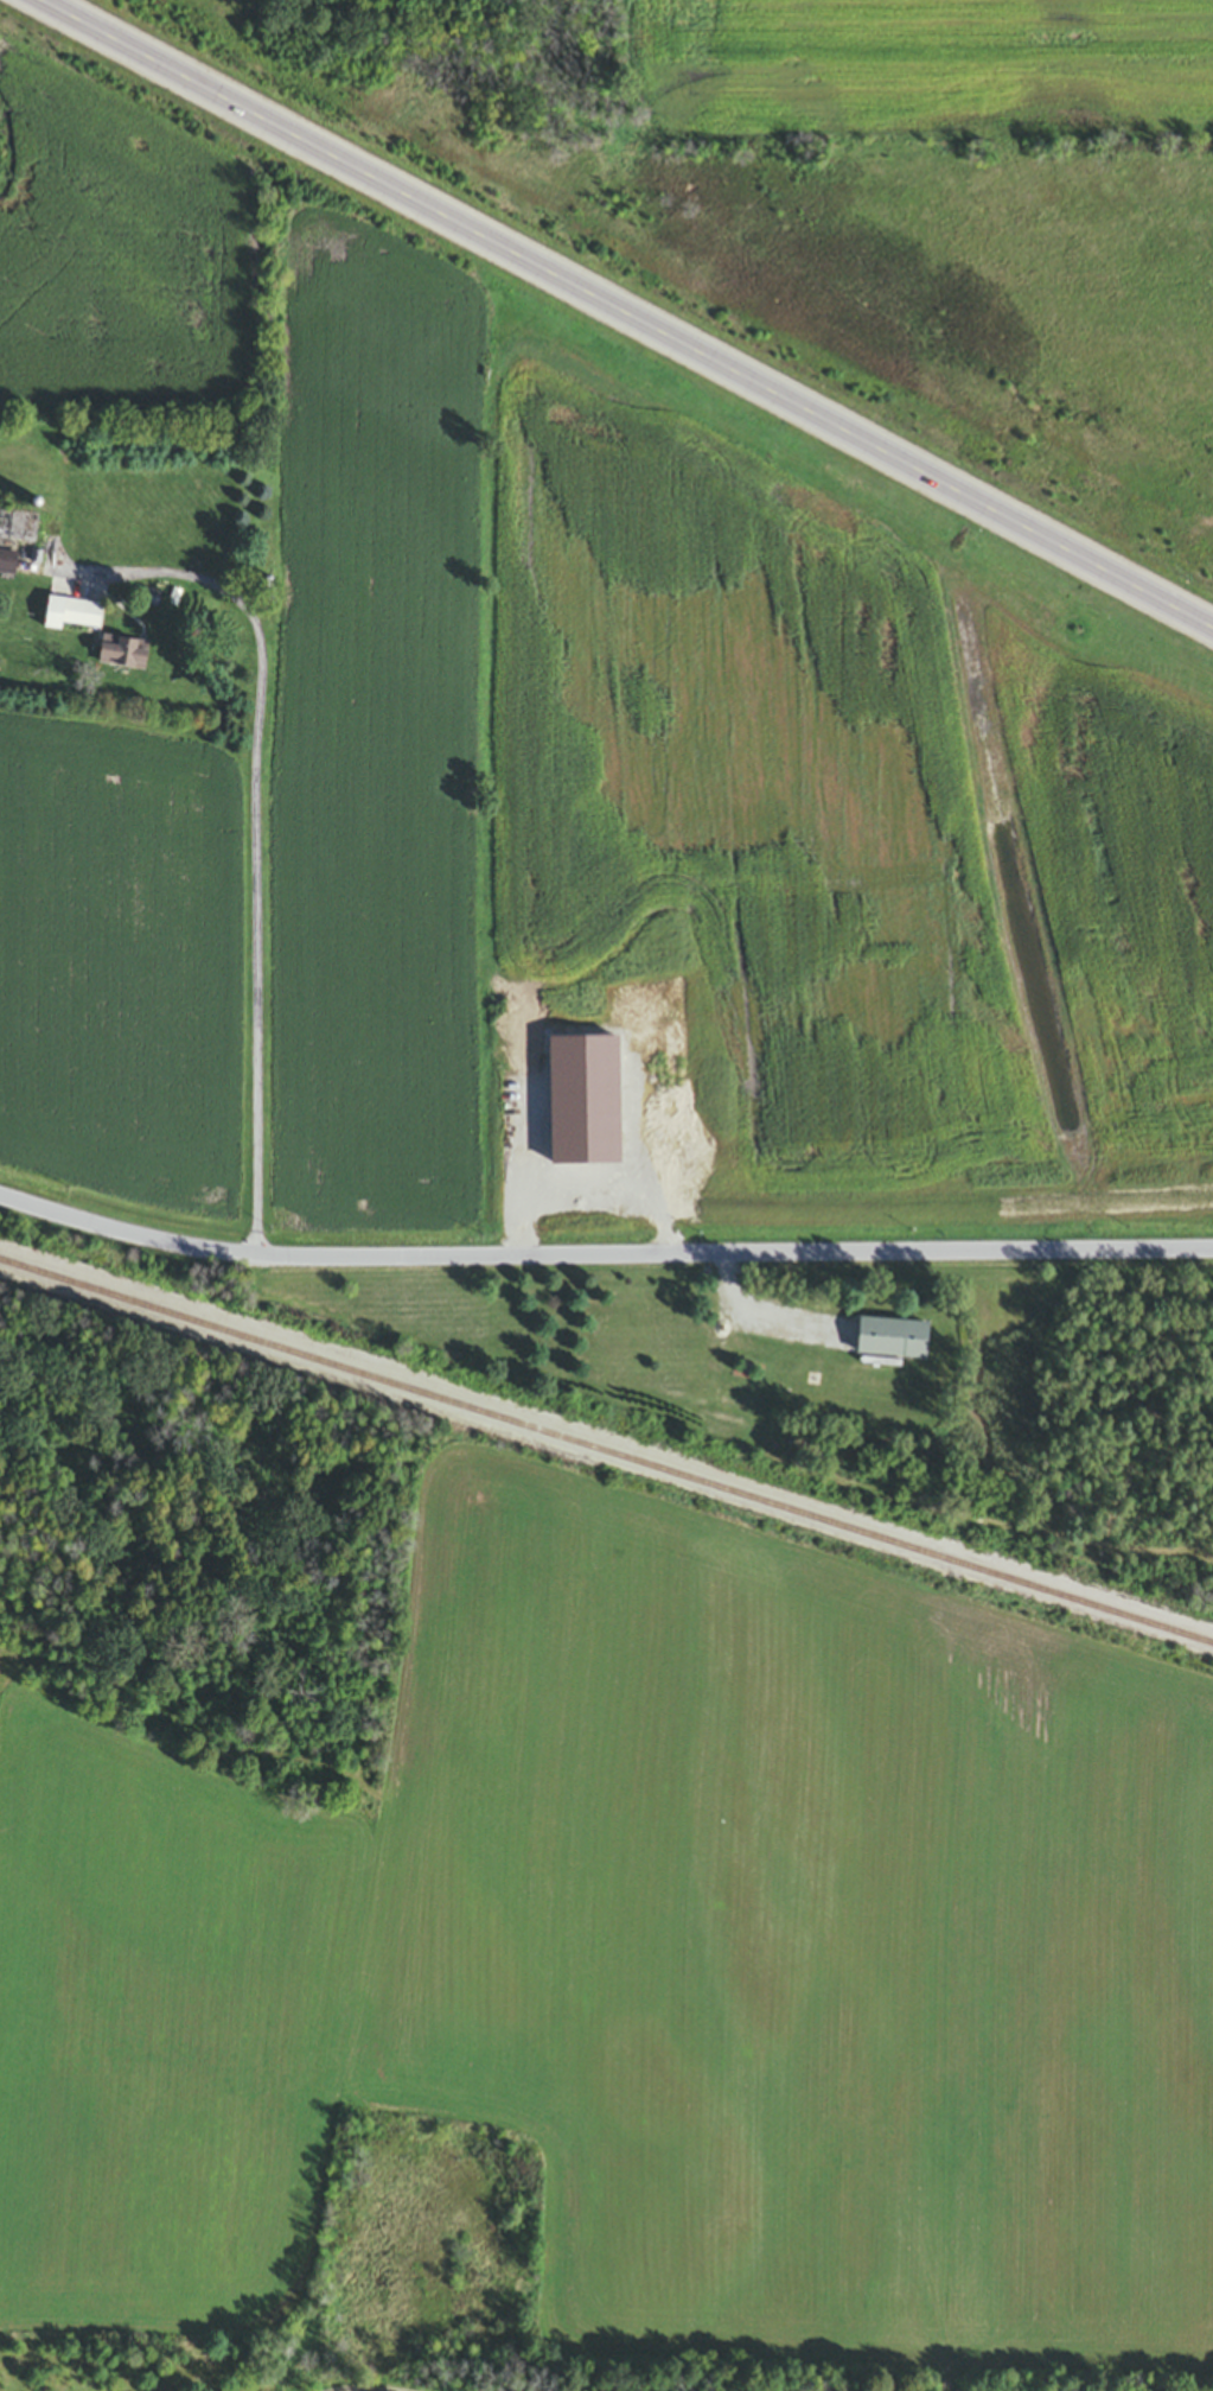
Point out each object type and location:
road: (626, 310)
building: (2, 526)
building: (7, 565)
building: (69, 616)
building: (122, 656)
road: (257, 853)
road: (602, 1265)
building: (890, 1340)
railway: (606, 1455)

